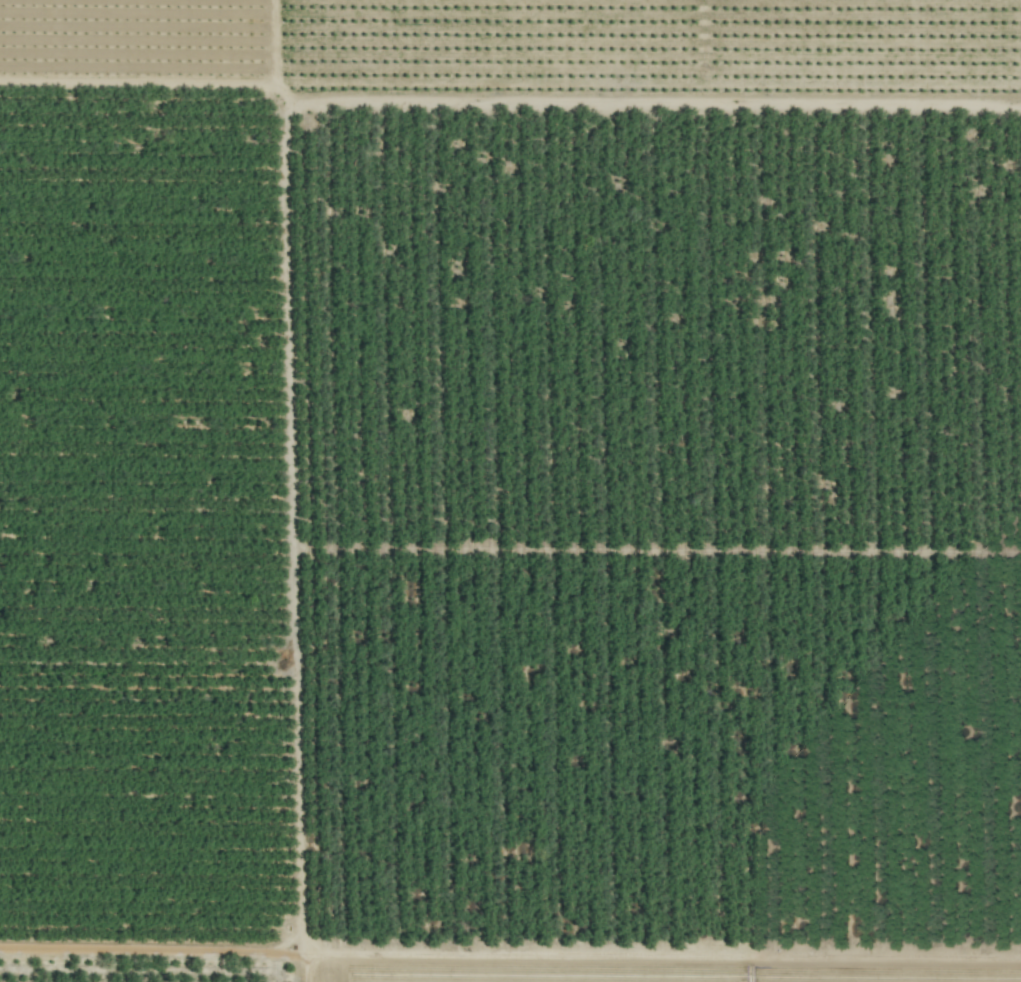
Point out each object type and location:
road: (289, 183)
road: (155, 953)

